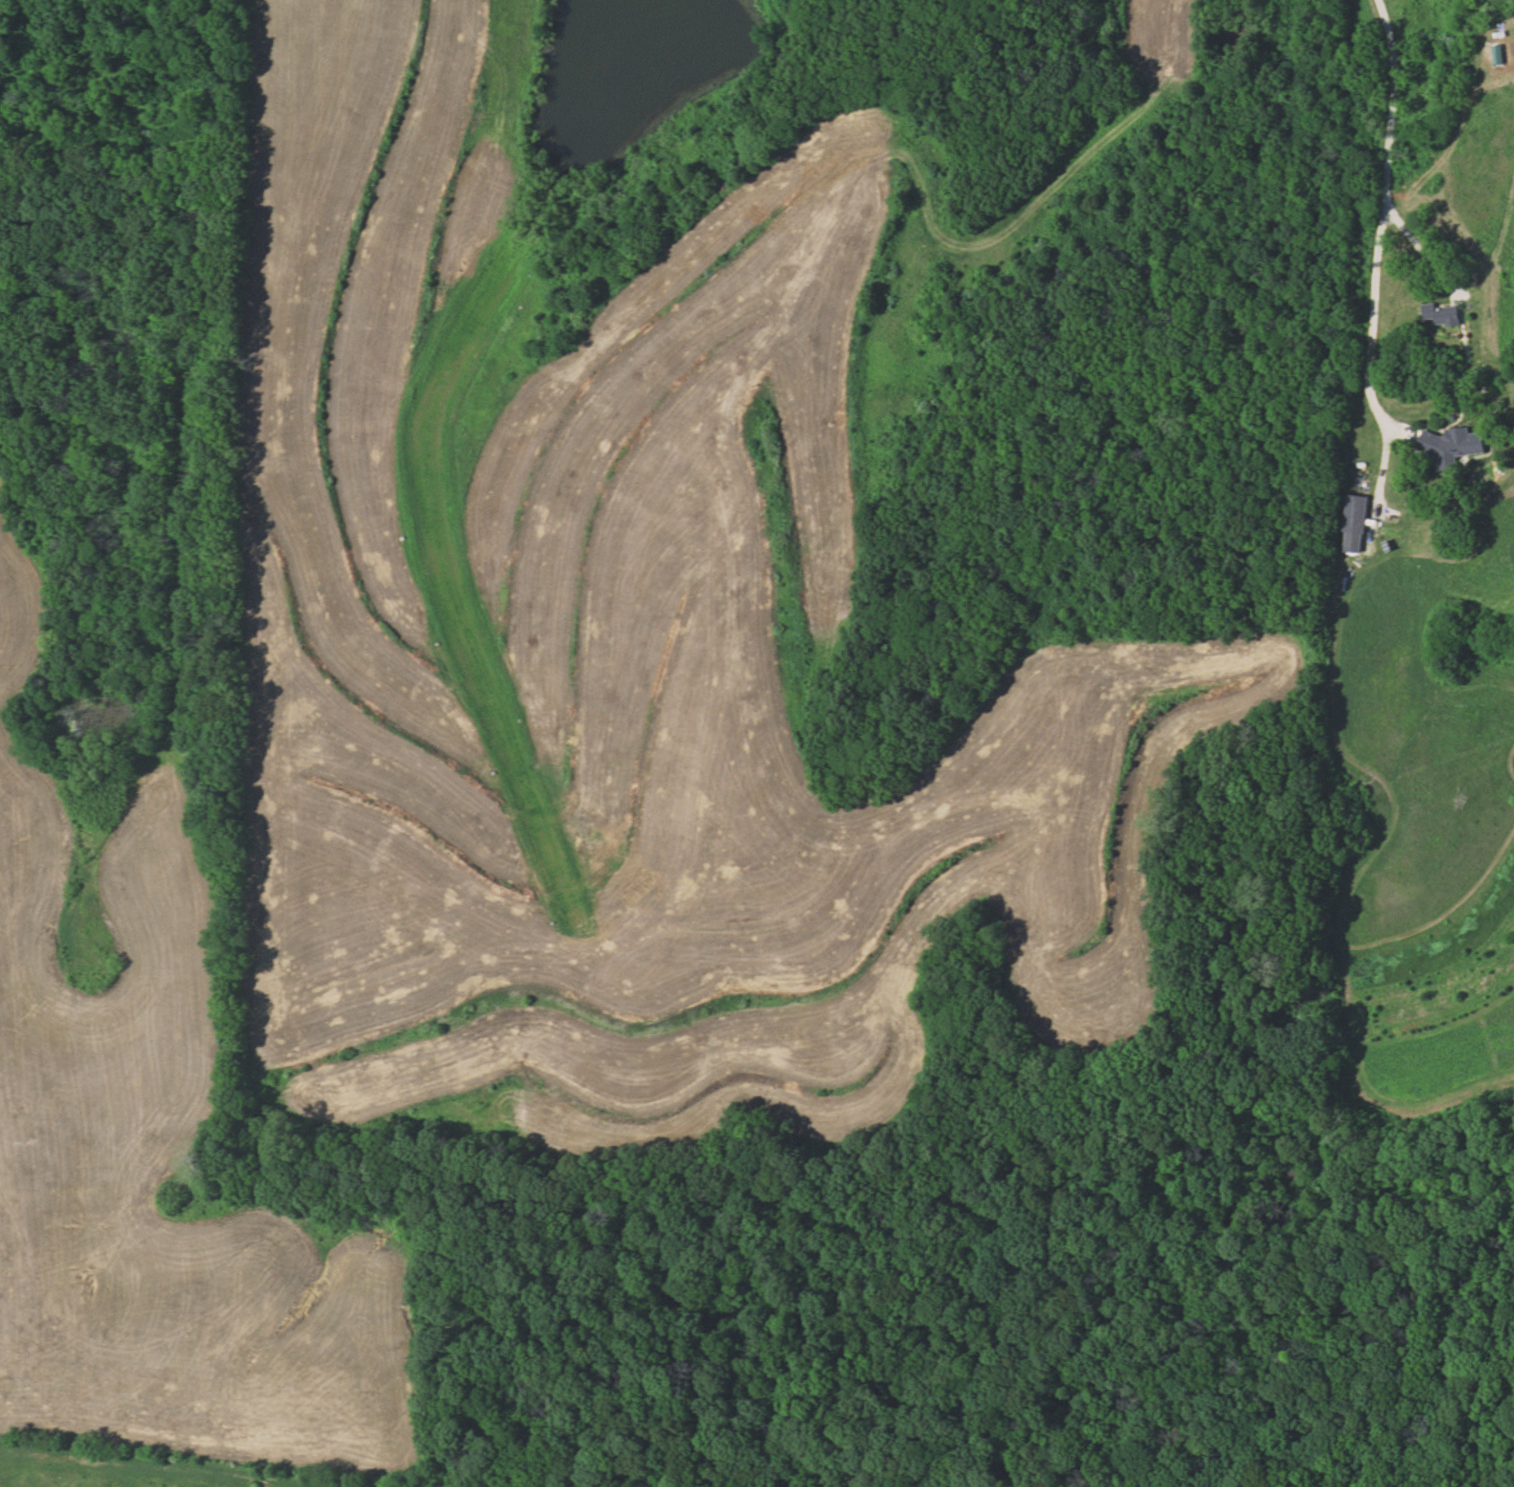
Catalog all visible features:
road: (1420, 247)
road: (1374, 264)
building: (1444, 315)
building: (1453, 446)
building: (1357, 514)

